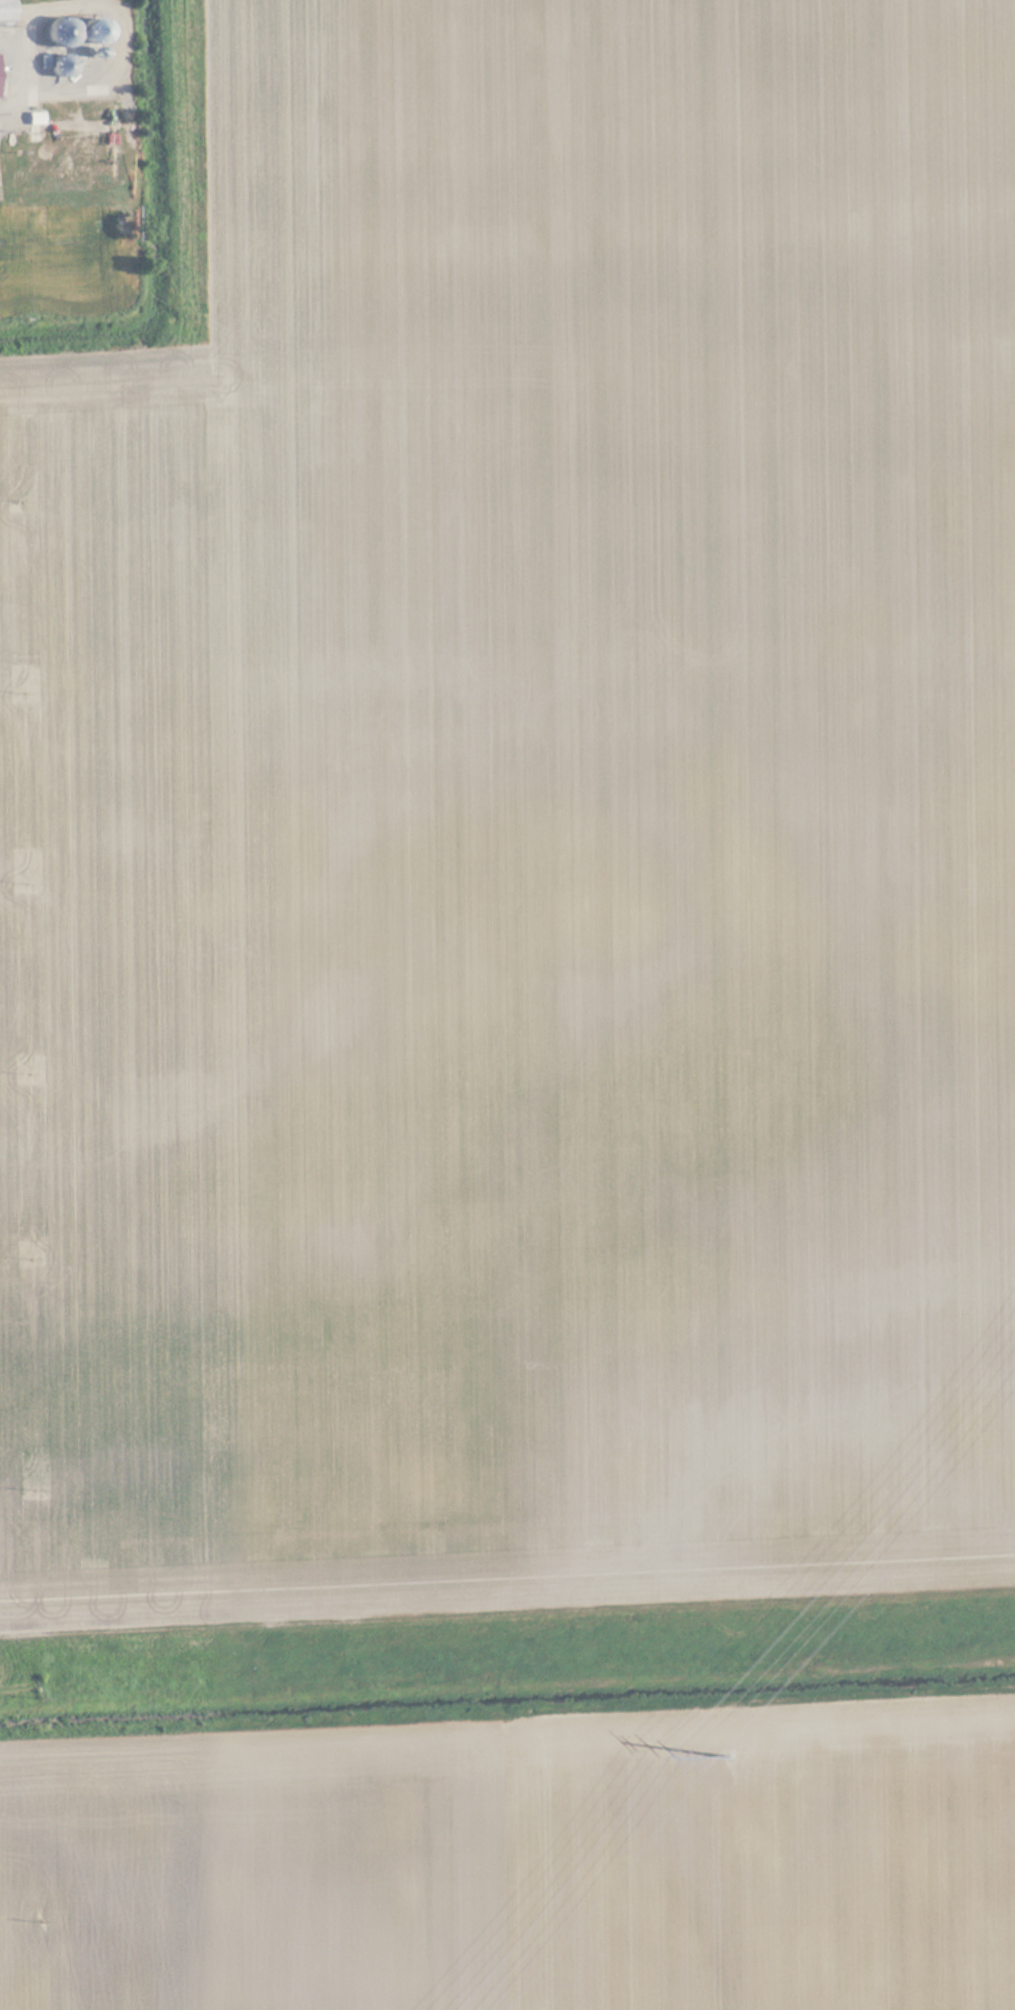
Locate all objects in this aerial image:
building: (6, 10)
building: (62, 32)
building: (64, 66)
building: (32, 133)
power tower: (743, 1757)

